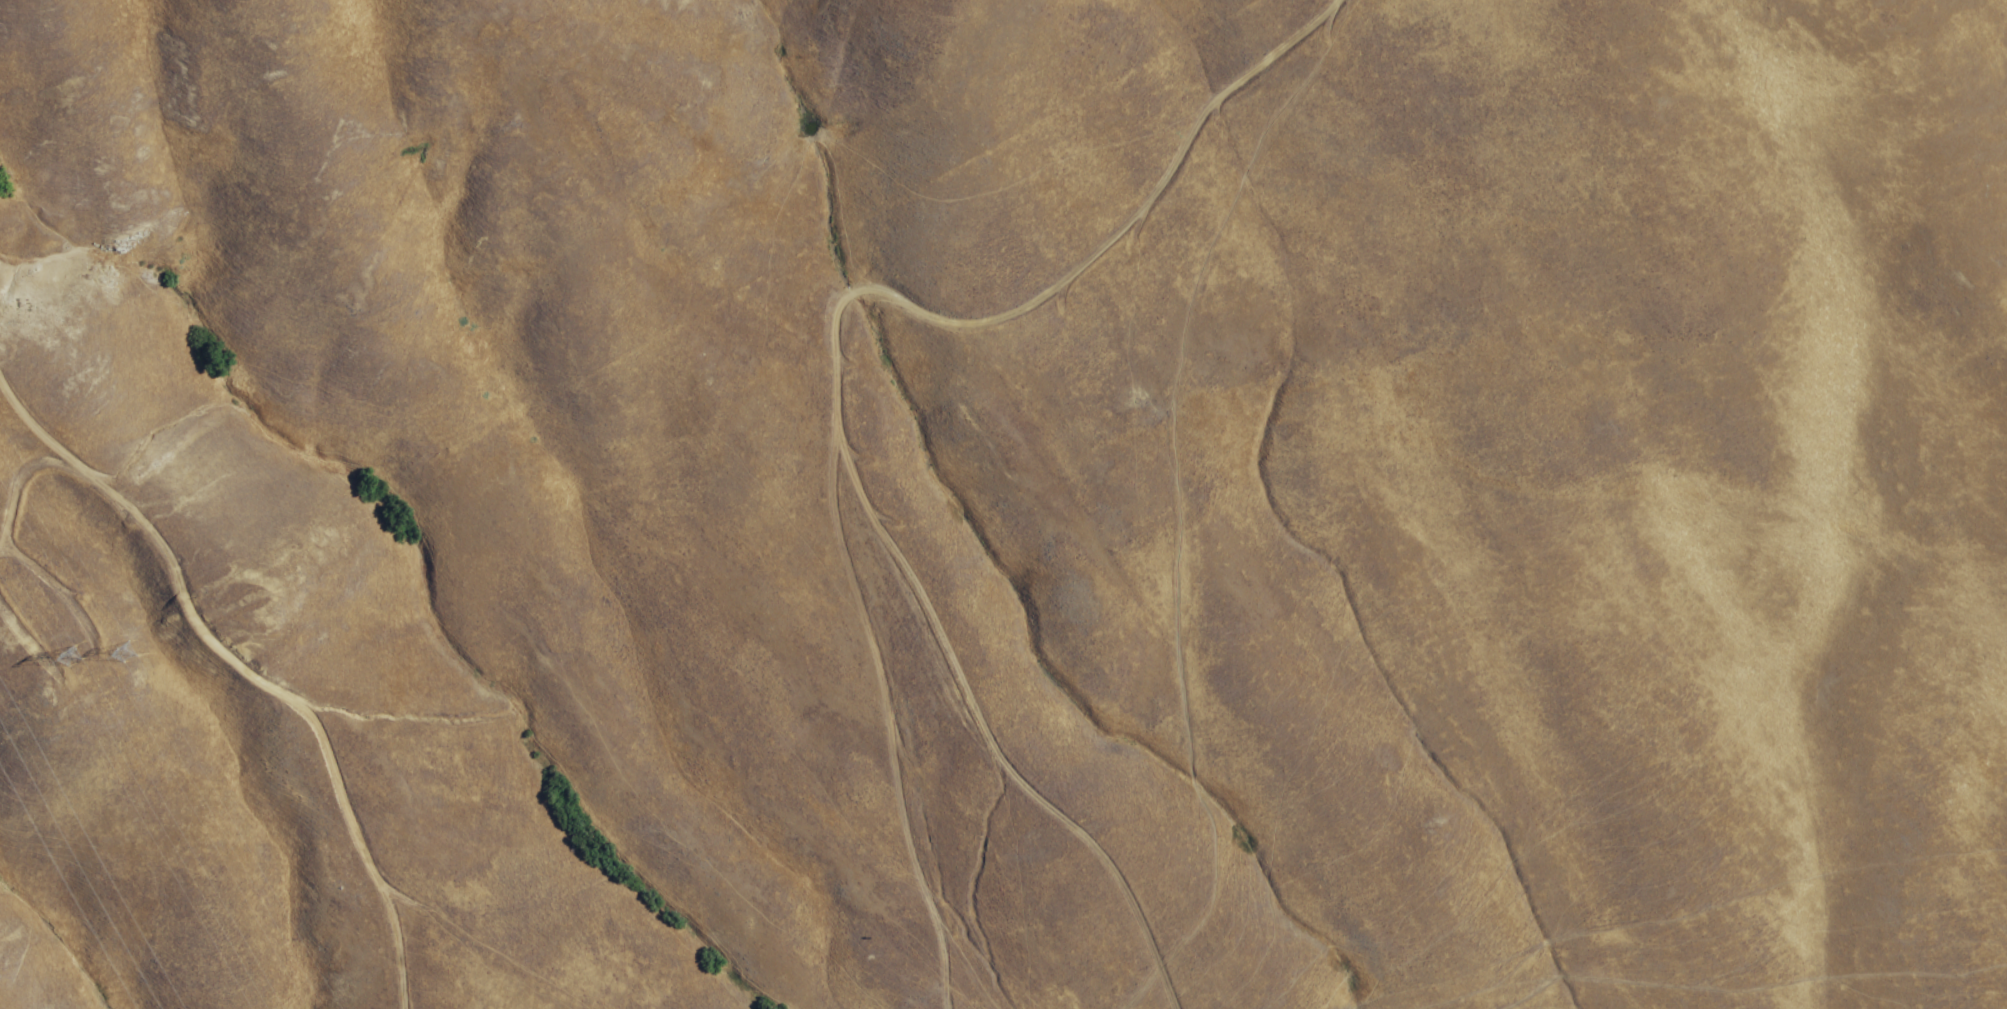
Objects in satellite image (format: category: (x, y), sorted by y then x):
road: (829, 338)
power tower: (140, 648)
power tower: (83, 655)
road: (242, 661)
road: (981, 735)

